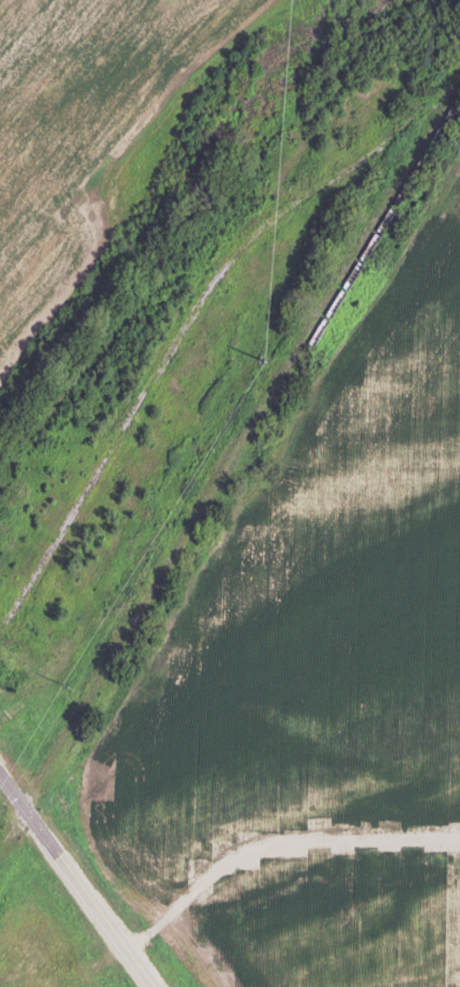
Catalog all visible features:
railway: (376, 231)
railway: (189, 325)
power tower: (267, 361)
railway: (230, 454)
power tower: (71, 685)
road: (279, 860)
road: (78, 878)

